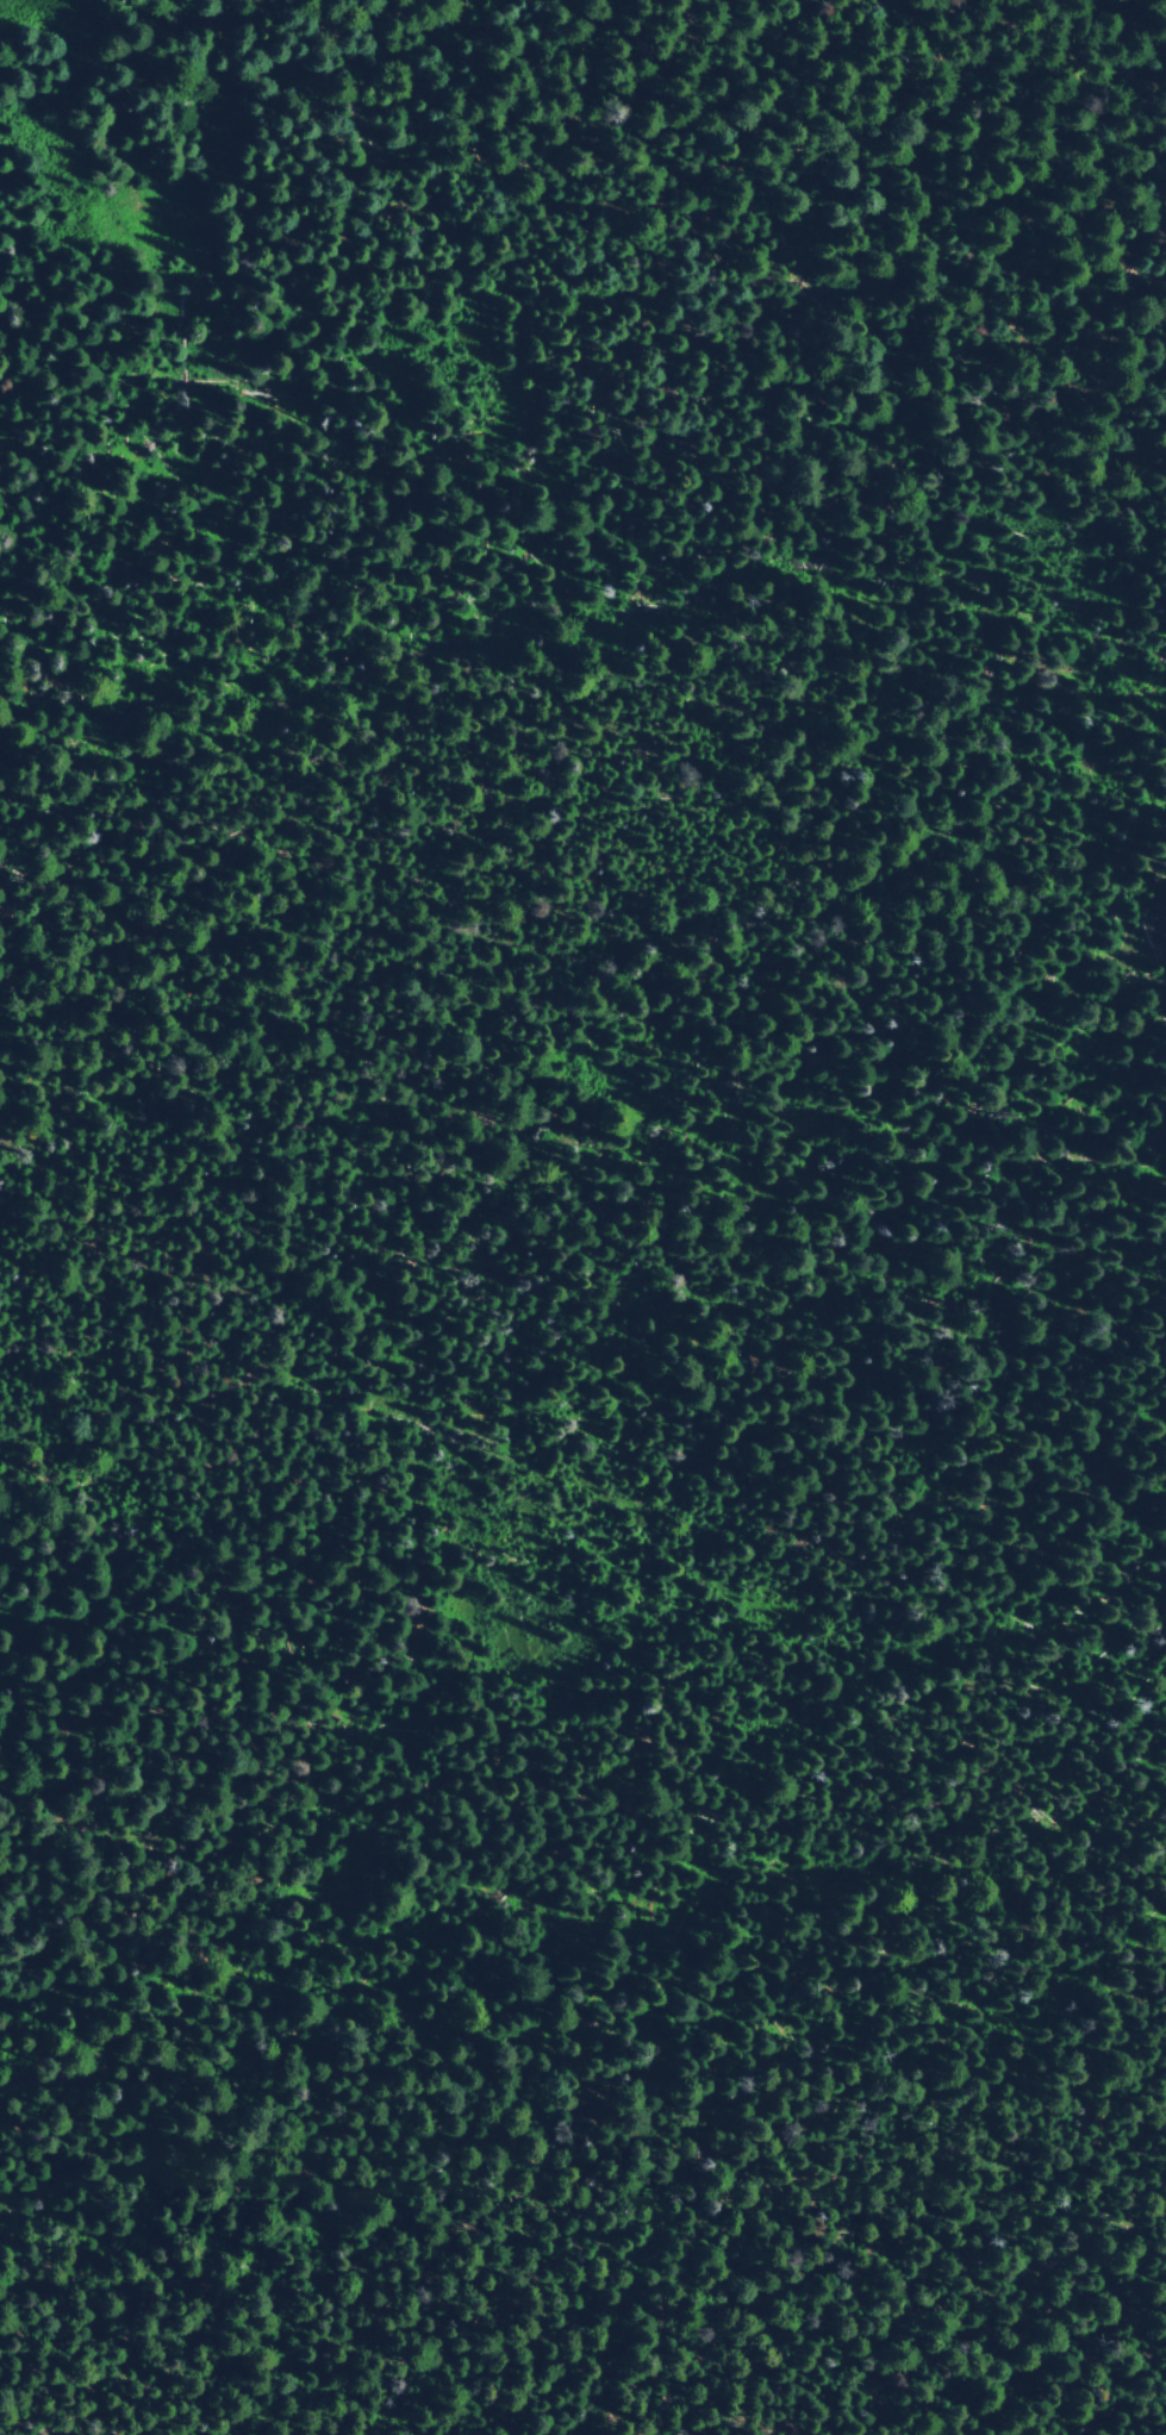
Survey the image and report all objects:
road: (532, 772)

